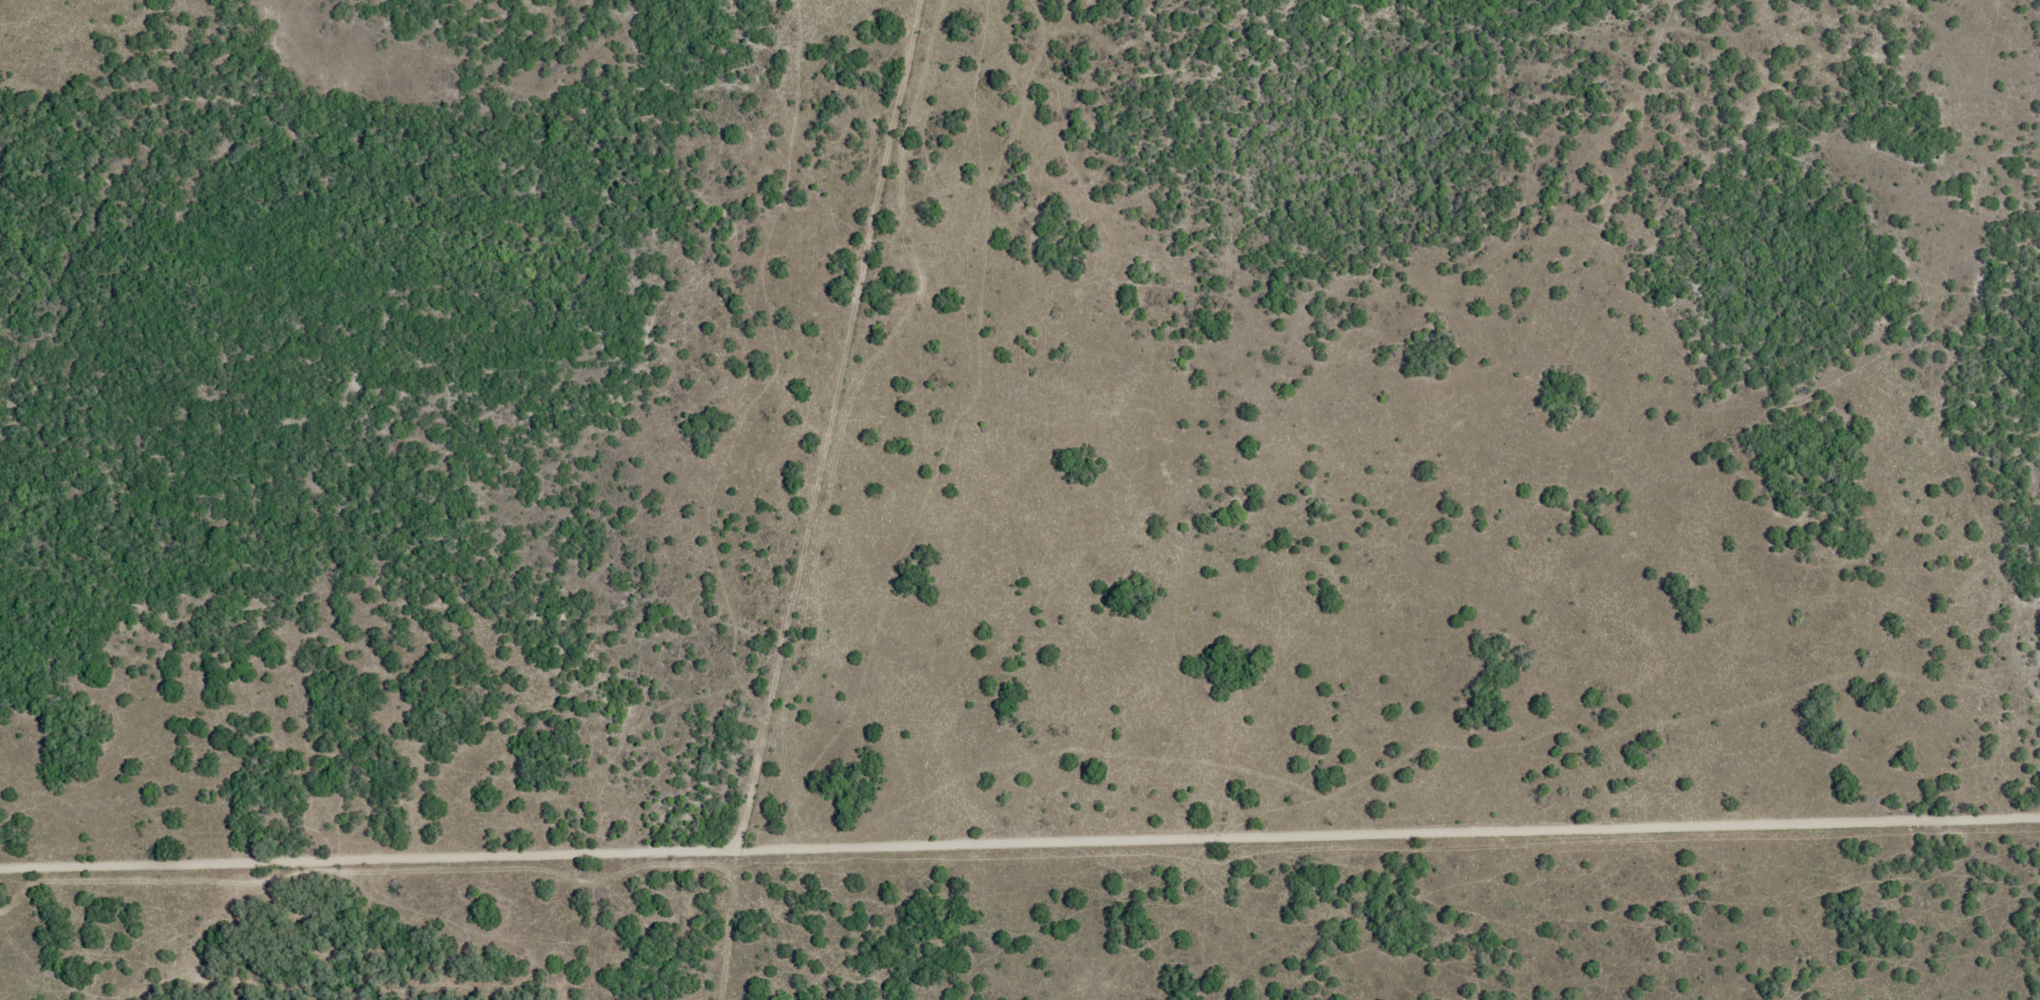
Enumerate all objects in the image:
road: (884, 223)
road: (816, 491)
road: (293, 843)

